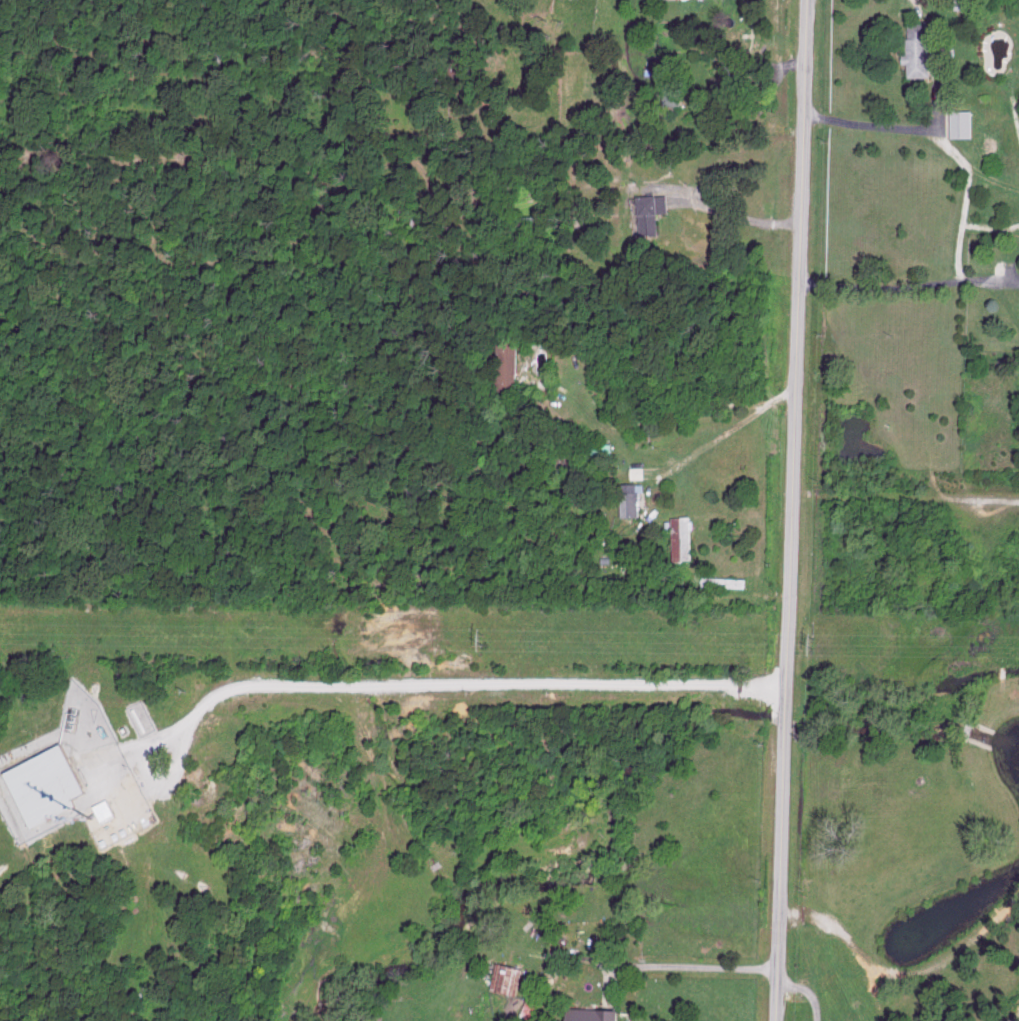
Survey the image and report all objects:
building: (959, 4)
building: (914, 49)
building: (729, 76)
building: (957, 123)
road: (904, 131)
building: (646, 211)
road: (729, 216)
road: (907, 288)
building: (508, 364)
road: (727, 427)
building: (631, 498)
road: (905, 498)
road: (792, 510)
building: (683, 537)
road: (422, 685)
building: (50, 784)
building: (106, 809)
road: (855, 946)
road: (680, 969)
building: (507, 977)
building: (530, 1006)
building: (597, 1014)

